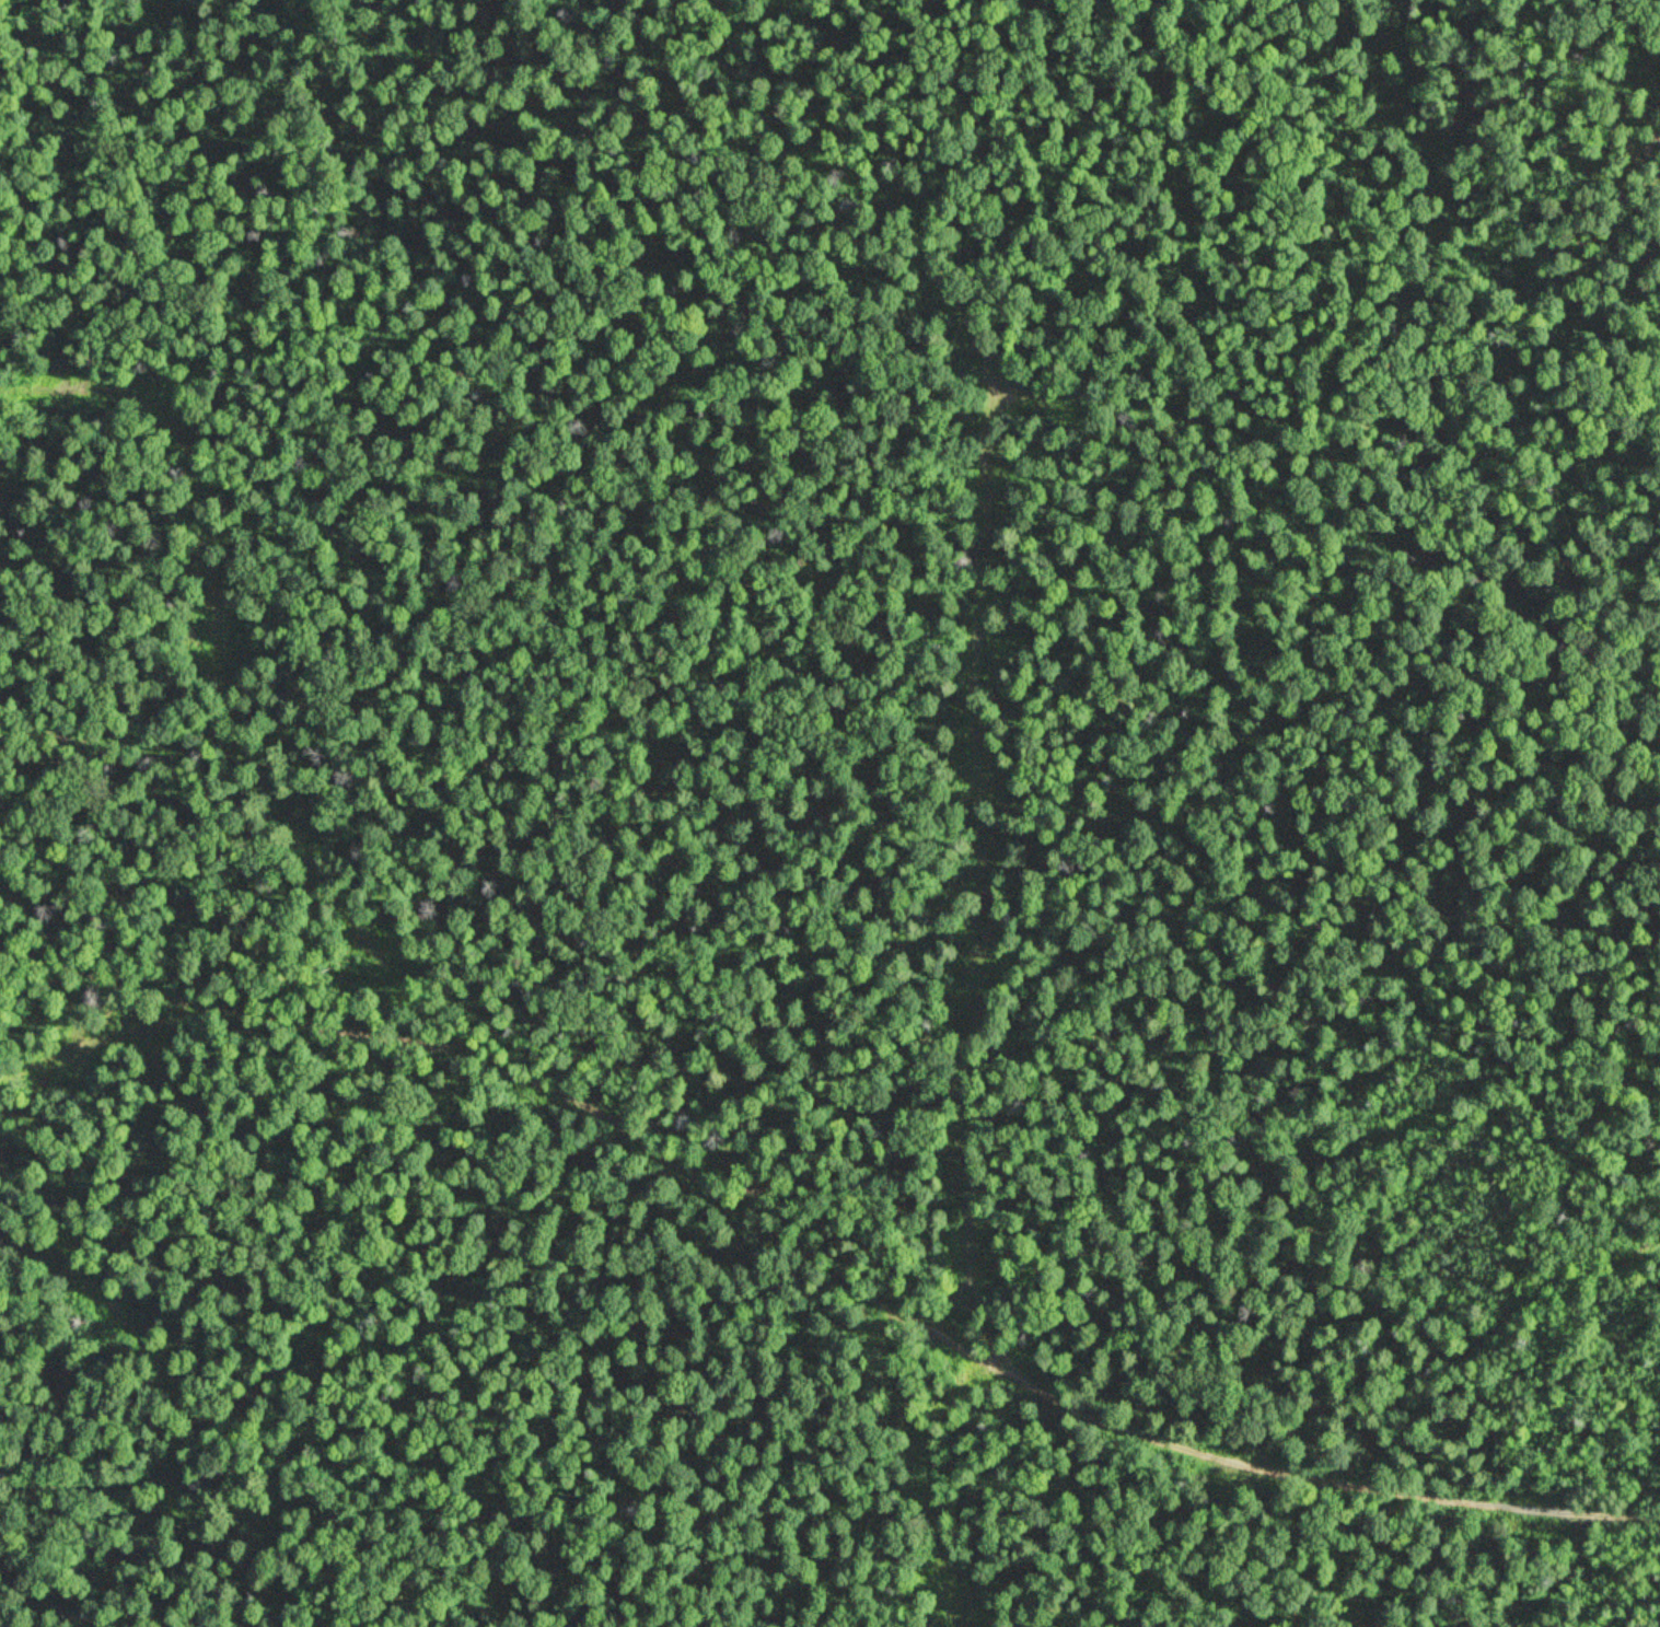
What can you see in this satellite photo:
road: (640, 1158)

